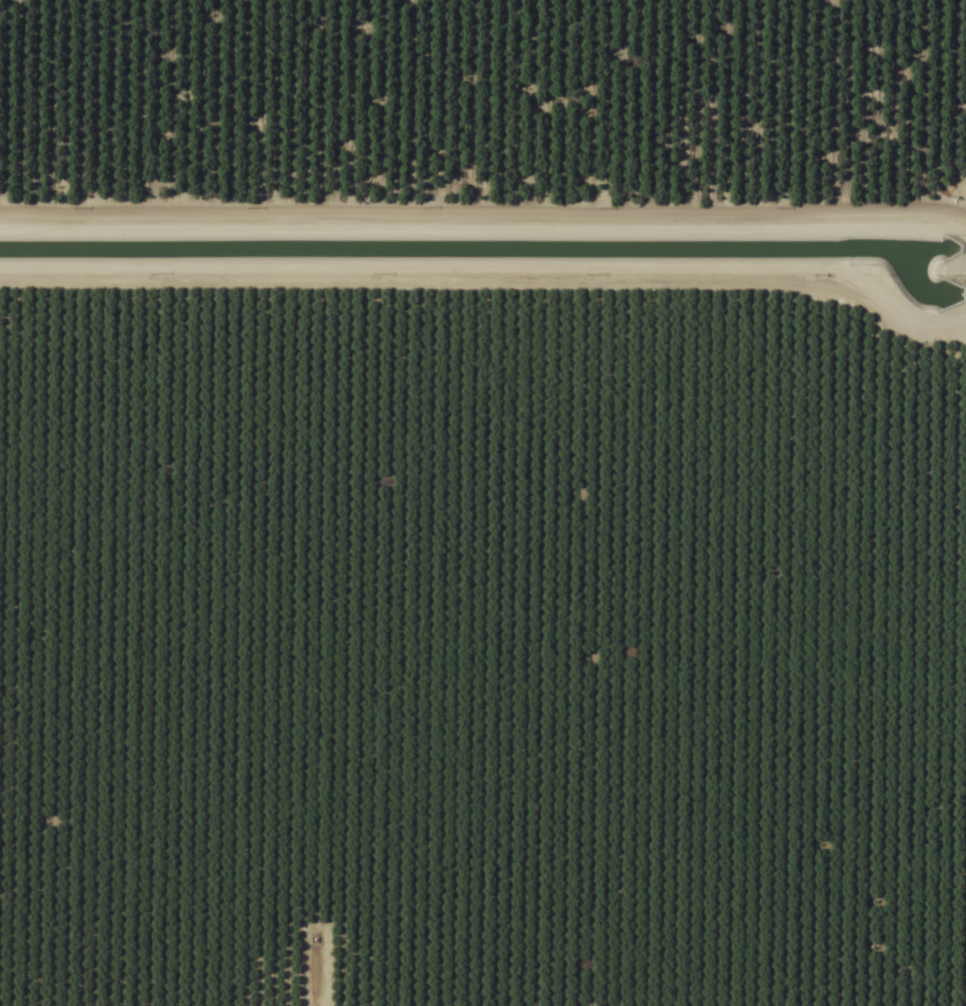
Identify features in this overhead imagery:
crop: (483, 503)

